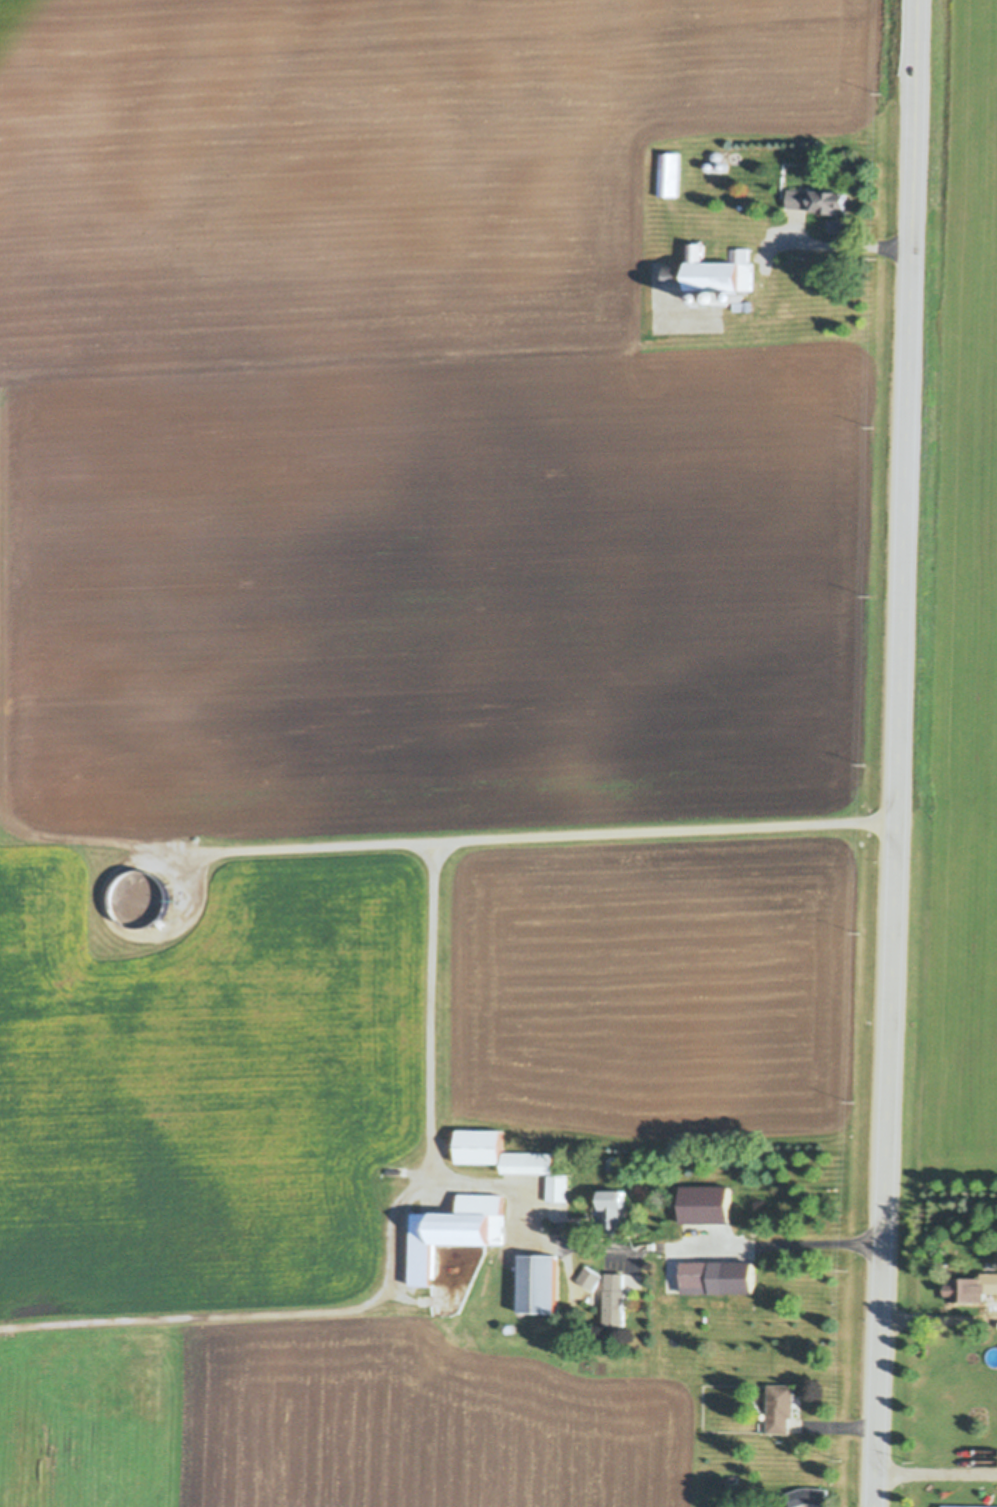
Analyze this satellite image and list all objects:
building: (716, 156)
building: (710, 166)
building: (722, 166)
building: (668, 175)
building: (819, 207)
road: (843, 245)
building: (713, 278)
crop: (957, 630)
crop: (386, 693)
road: (896, 753)
road: (547, 837)
building: (136, 899)
road: (437, 1011)
building: (481, 1141)
building: (530, 1158)
building: (614, 1160)
building: (558, 1183)
building: (446, 1198)
building: (615, 1204)
building: (700, 1204)
building: (453, 1226)
road: (750, 1249)
building: (719, 1273)
building: (591, 1274)
building: (539, 1278)
building: (972, 1283)
building: (615, 1295)
road: (938, 1314)
building: (511, 1324)
building: (780, 1405)
road: (936, 1469)
building: (808, 1493)
building: (780, 1505)
building: (969, 1505)

